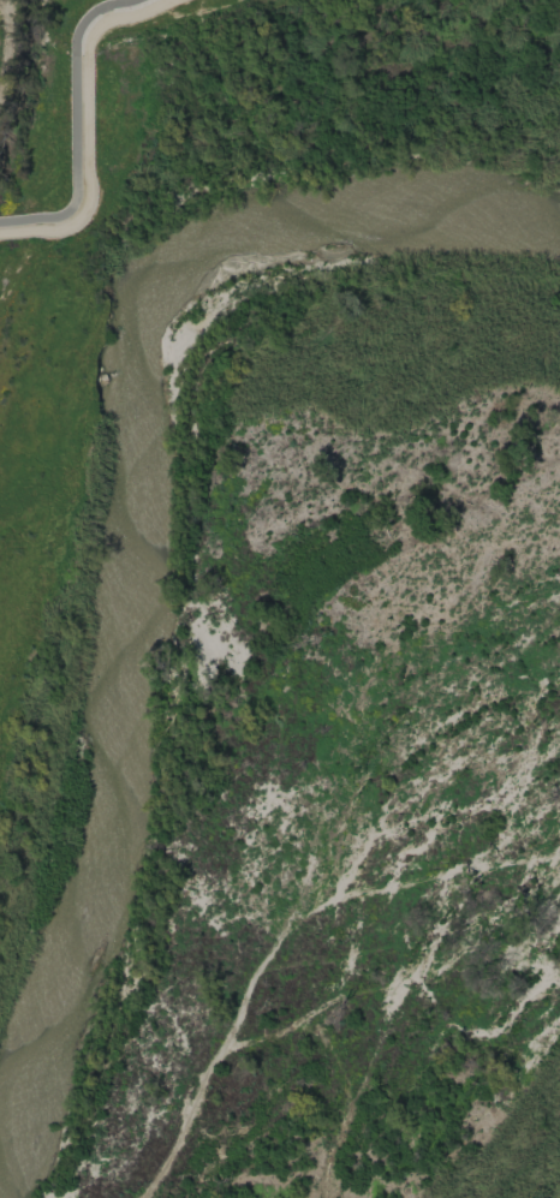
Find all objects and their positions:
park: (133, 17)
road: (76, 124)
river: (137, 500)

